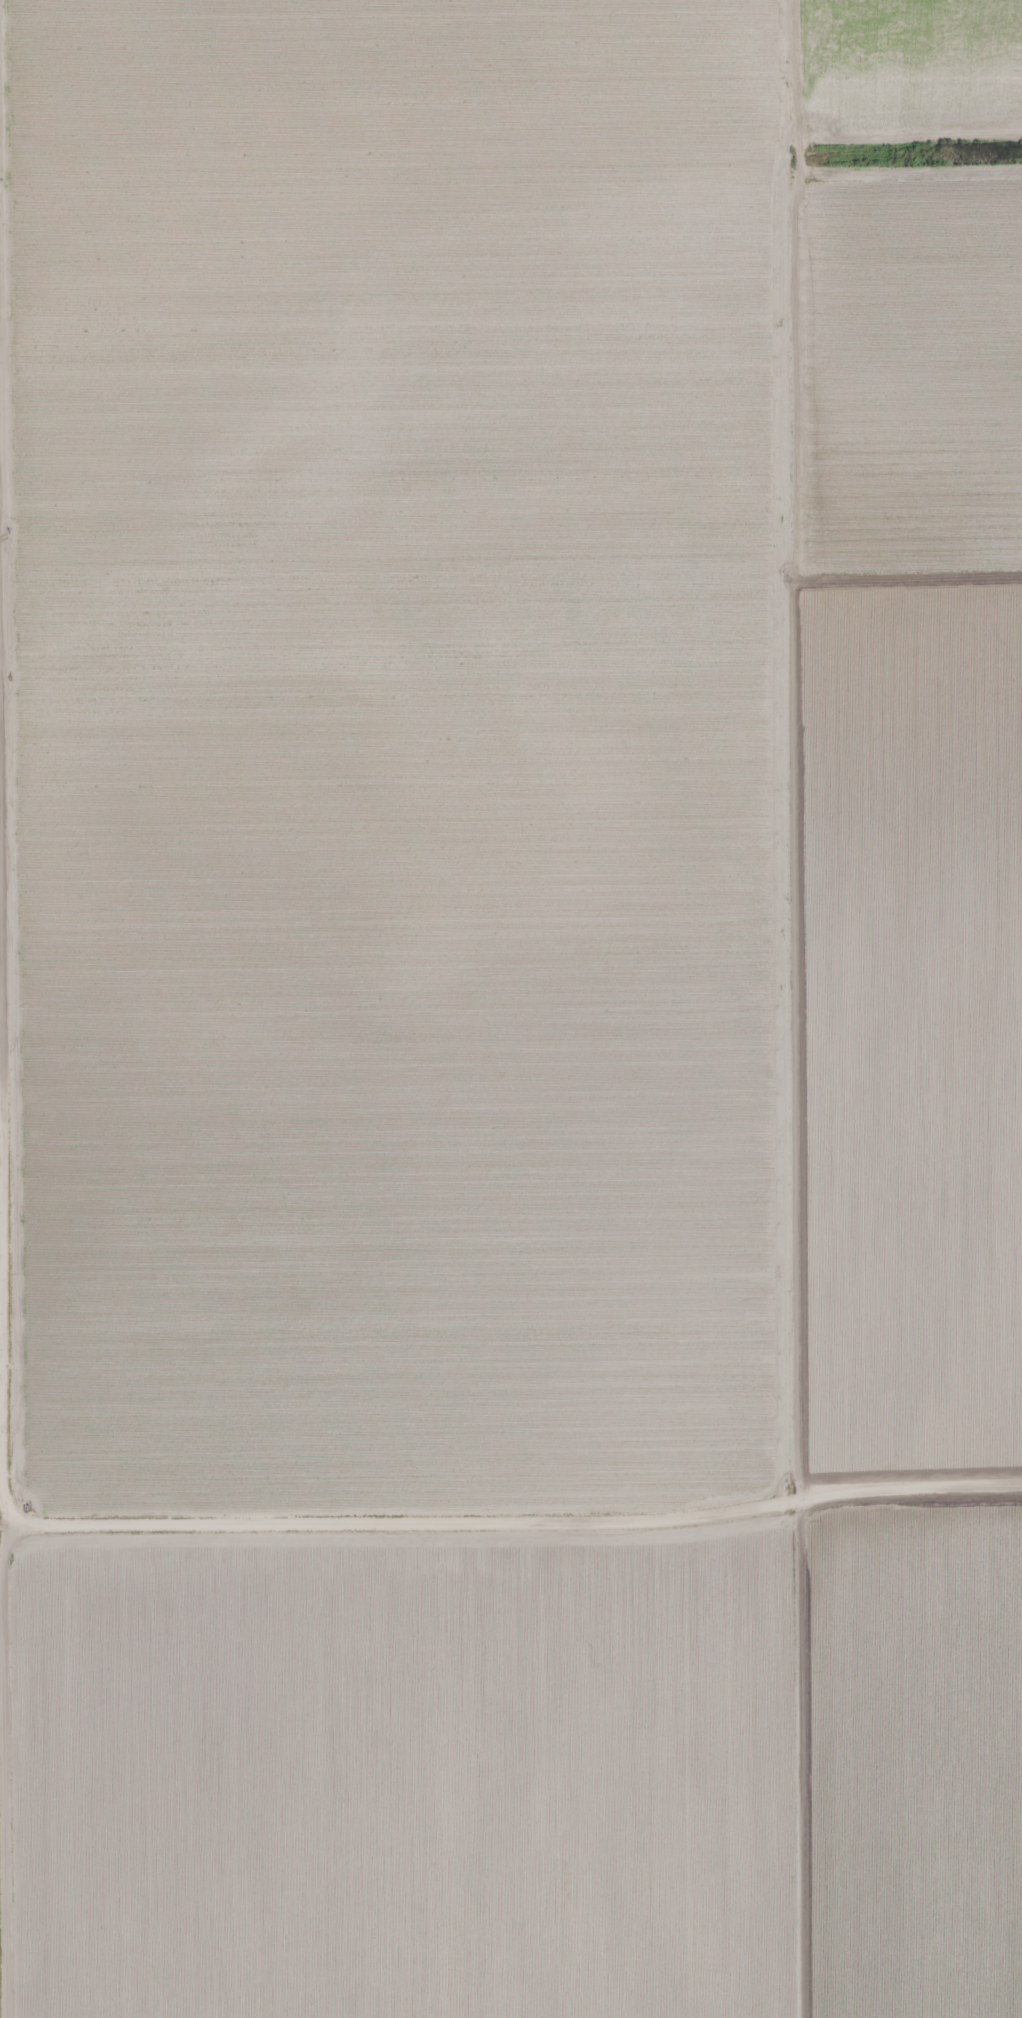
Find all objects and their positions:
road: (516, 1758)
road: (0, 1870)

